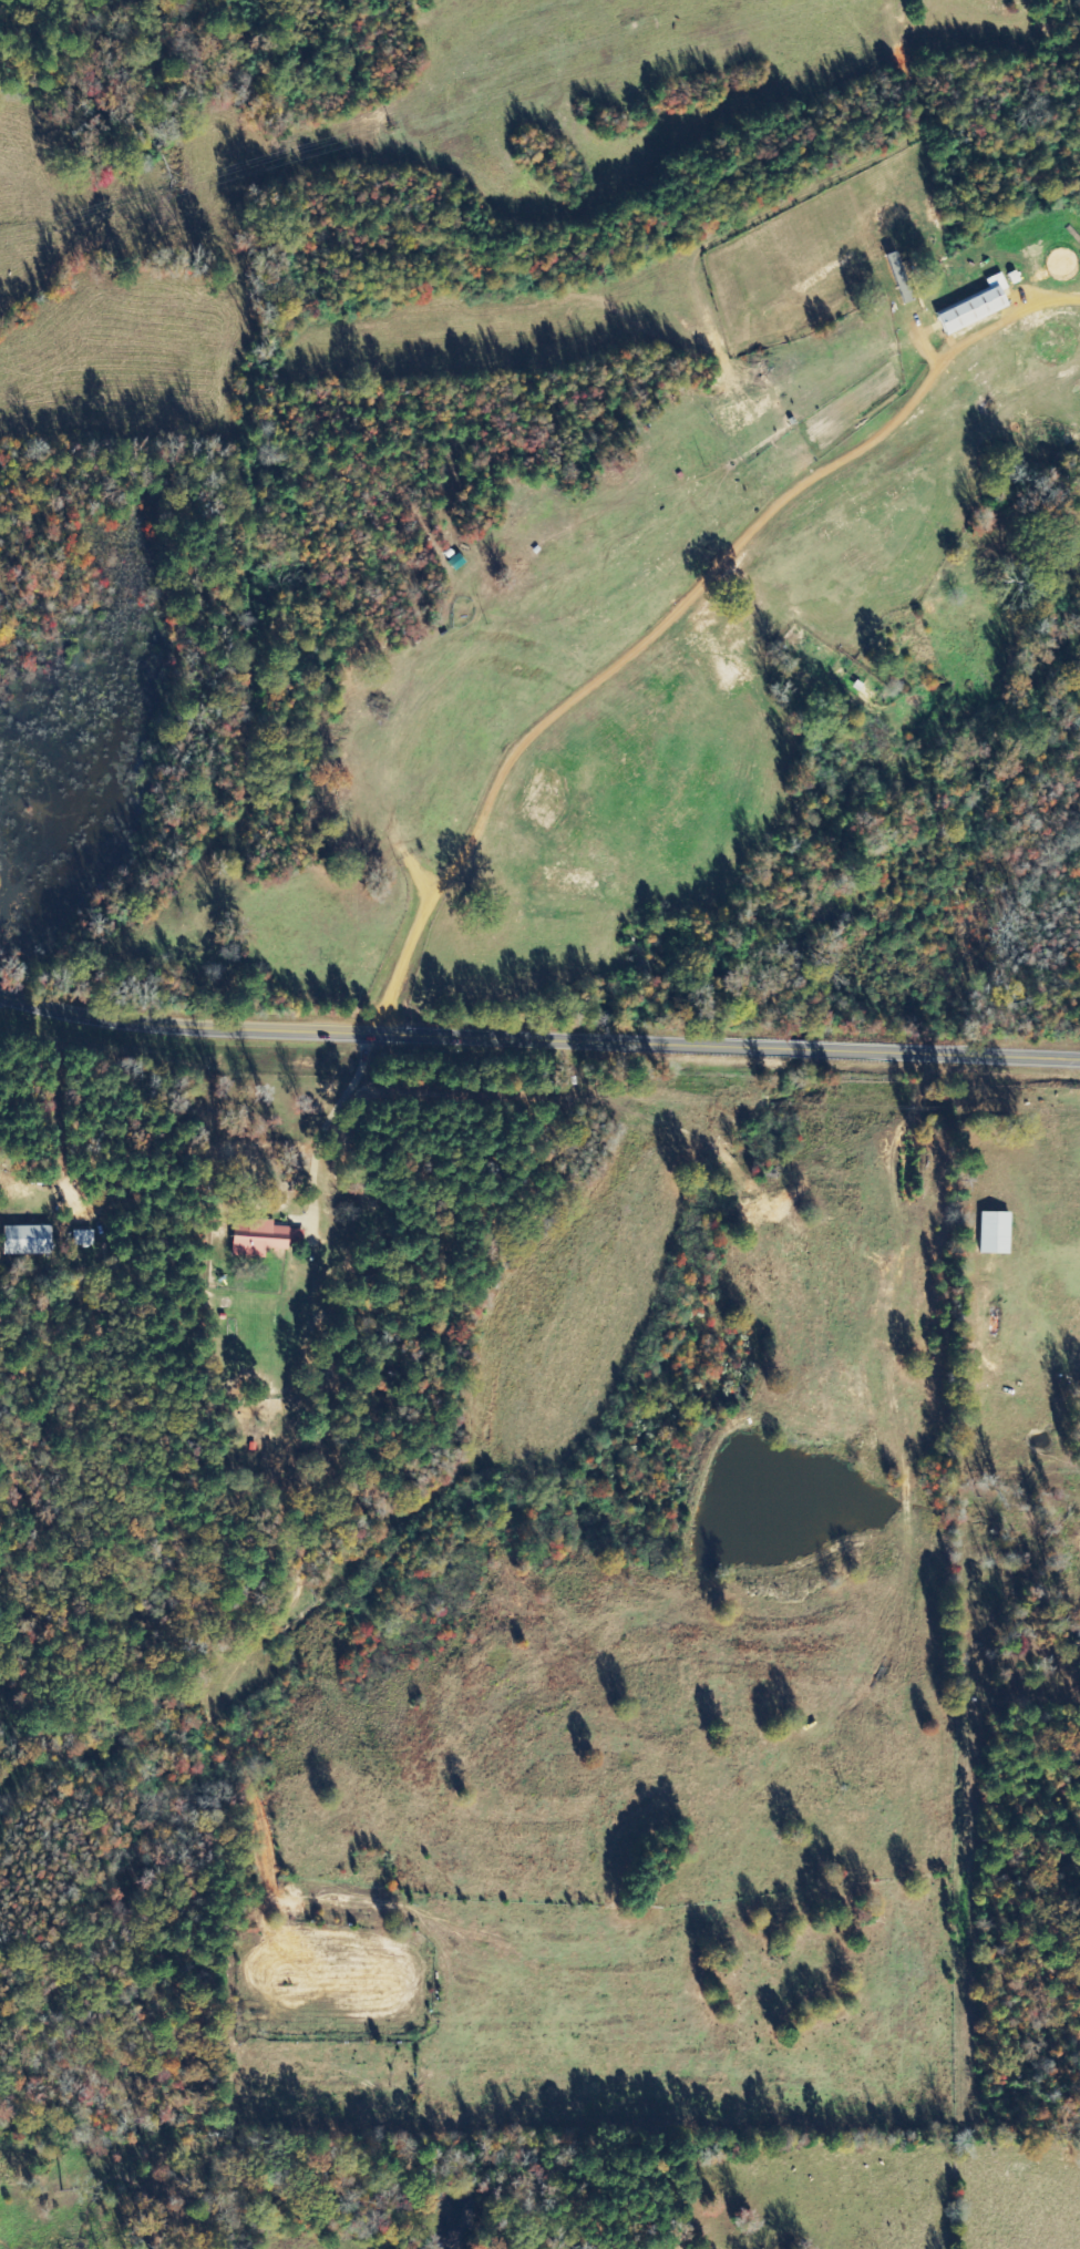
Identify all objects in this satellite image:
building: (977, 306)
road: (608, 660)
road: (538, 1038)
building: (996, 1234)
building: (85, 1239)
building: (260, 1239)
building: (29, 1241)

